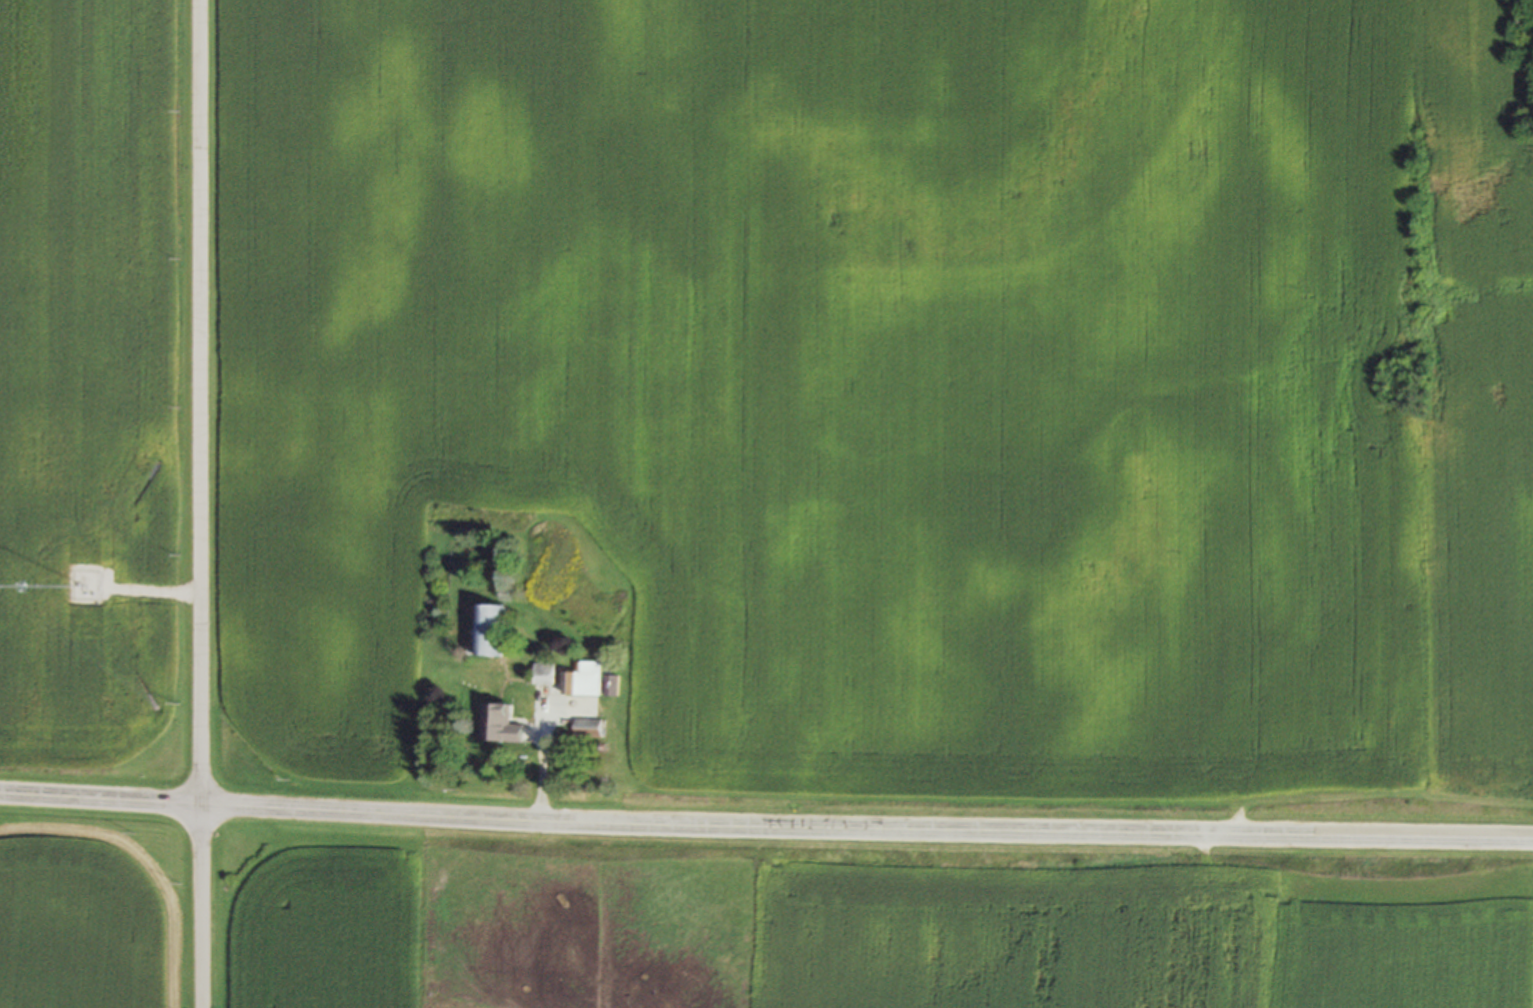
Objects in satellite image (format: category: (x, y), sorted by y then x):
road: (202, 504)
building: (489, 630)
building: (543, 674)
building: (582, 680)
building: (610, 687)
building: (494, 727)
building: (587, 729)
road: (766, 829)

